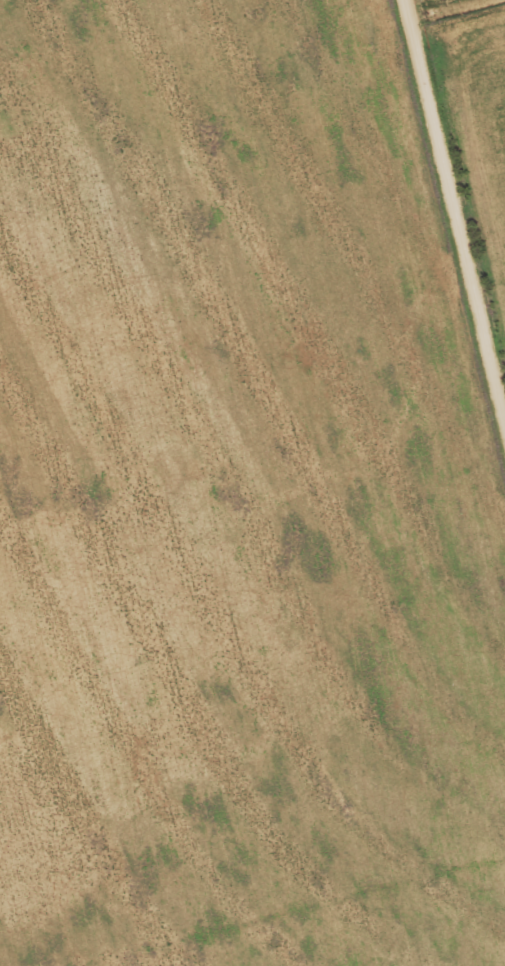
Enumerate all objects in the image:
road: (447, 247)

